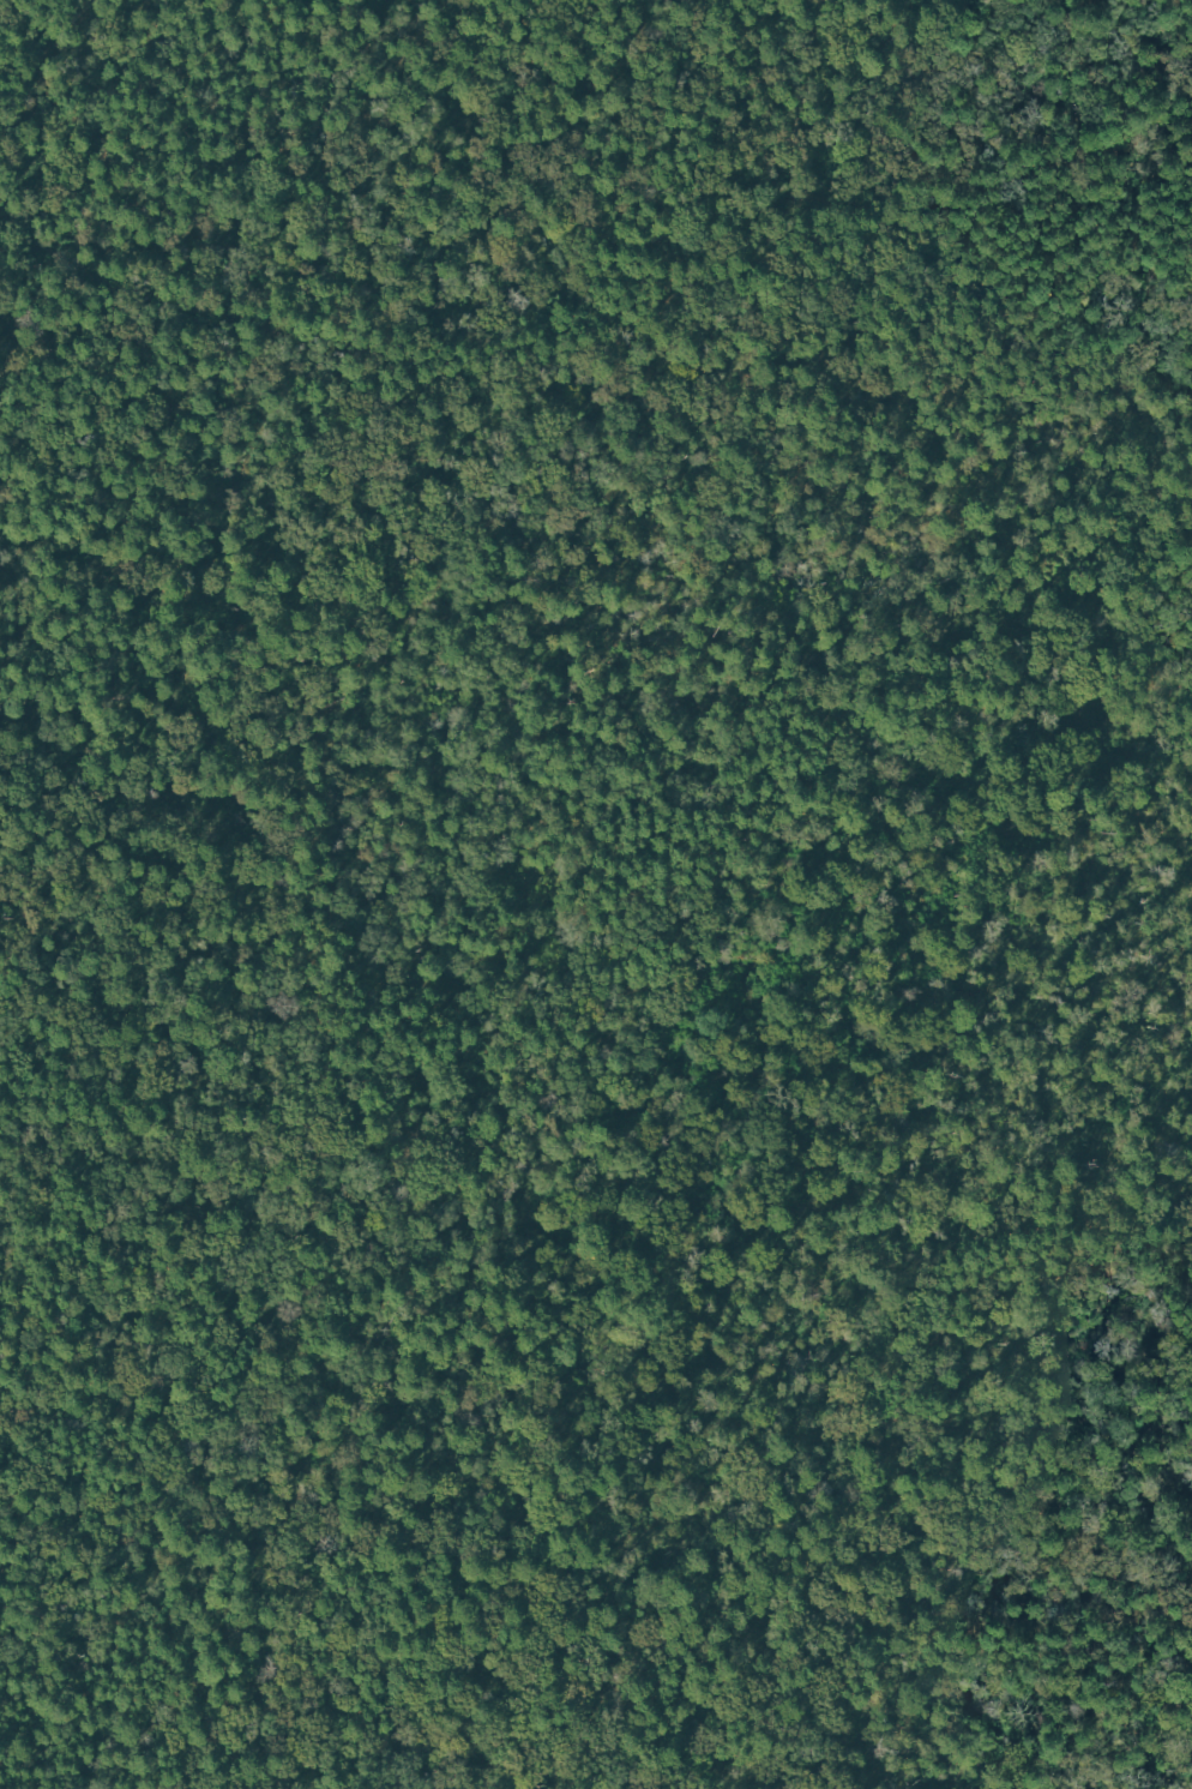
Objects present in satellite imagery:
road: (592, 307)

